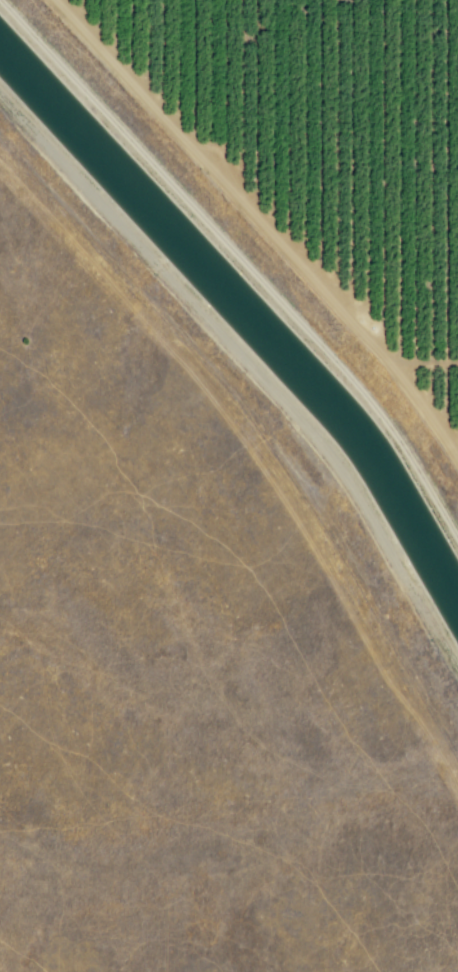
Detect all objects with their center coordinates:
road: (262, 222)
road: (424, 363)

